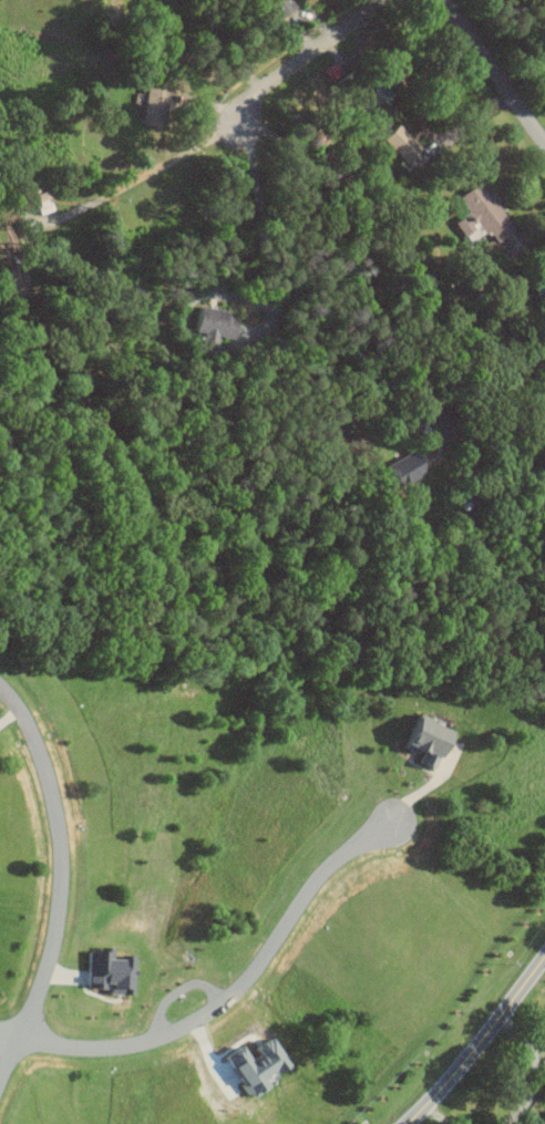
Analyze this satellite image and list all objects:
building: (278, 6)
road: (218, 43)
road: (311, 54)
road: (494, 70)
building: (352, 91)
building: (397, 143)
road: (138, 176)
road: (264, 207)
road: (323, 279)
building: (215, 323)
building: (418, 739)
road: (61, 881)
building: (102, 970)
road: (237, 991)
road: (10, 1033)
road: (479, 1041)
road: (536, 1068)
road: (439, 1115)
building: (541, 1120)

